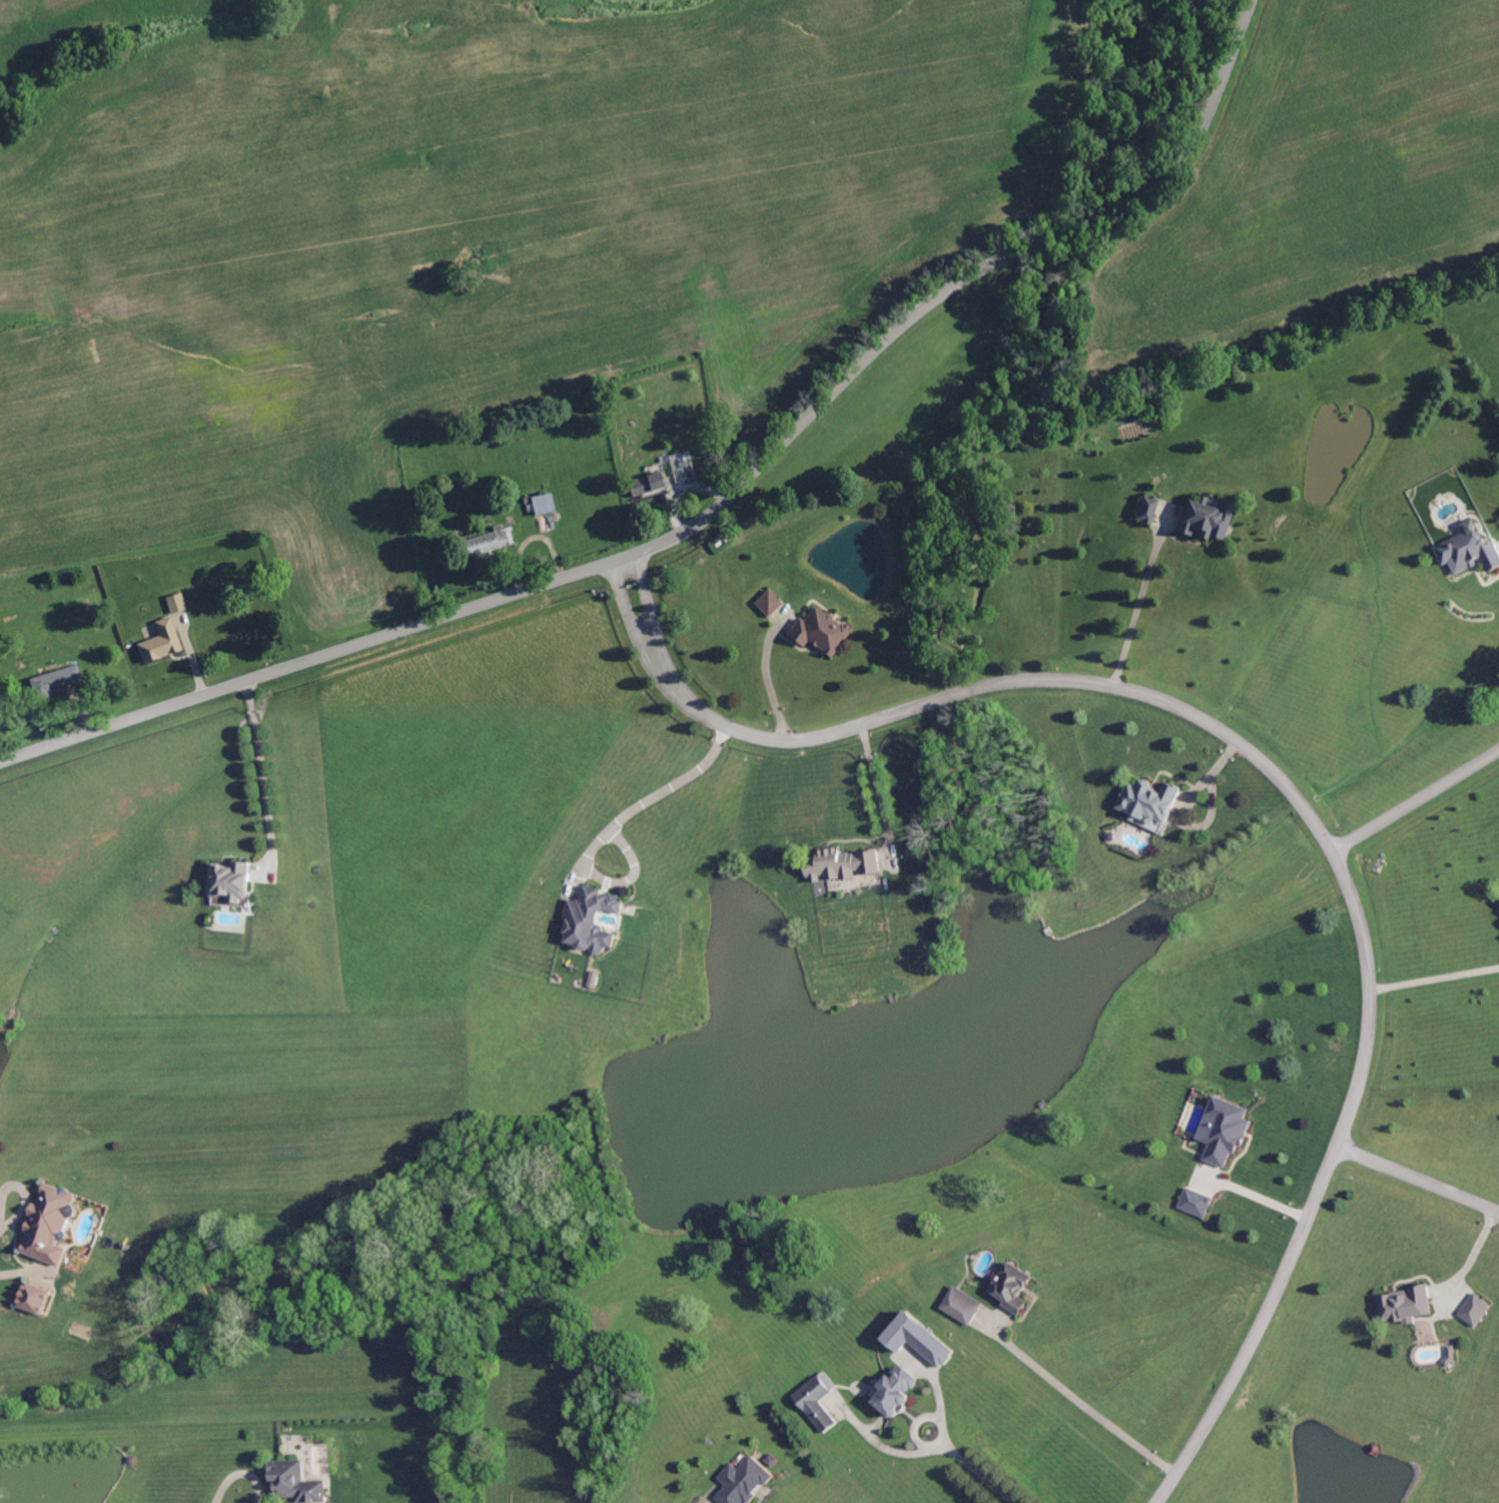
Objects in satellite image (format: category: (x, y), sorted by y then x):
building: (694, 360)
building: (682, 459)
building: (648, 484)
building: (544, 504)
road: (717, 508)
building: (1147, 509)
building: (1205, 519)
building: (490, 540)
building: (719, 544)
building: (1469, 551)
building: (176, 601)
building: (769, 603)
road: (1138, 606)
building: (821, 632)
building: (161, 642)
road: (761, 671)
building: (54, 681)
road: (258, 766)
road: (1288, 778)
road: (667, 788)
road: (872, 788)
road: (1410, 795)
building: (1150, 801)
building: (841, 865)
building: (231, 881)
building: (591, 920)
road: (1435, 980)
building: (1224, 1131)
road: (1419, 1177)
road: (1252, 1193)
building: (1196, 1203)
road: (3, 1207)
building: (50, 1225)
road: (1466, 1253)
building: (1013, 1288)
building: (35, 1299)
building: (1406, 1305)
building: (961, 1306)
building: (1476, 1309)
building: (918, 1341)
building: (1450, 1356)
building: (895, 1393)
road: (1079, 1400)
building: (817, 1402)
road: (946, 1443)
pier: (1376, 1448)
building: (771, 1461)
road: (240, 1474)
building: (745, 1482)
building: (296, 1483)

